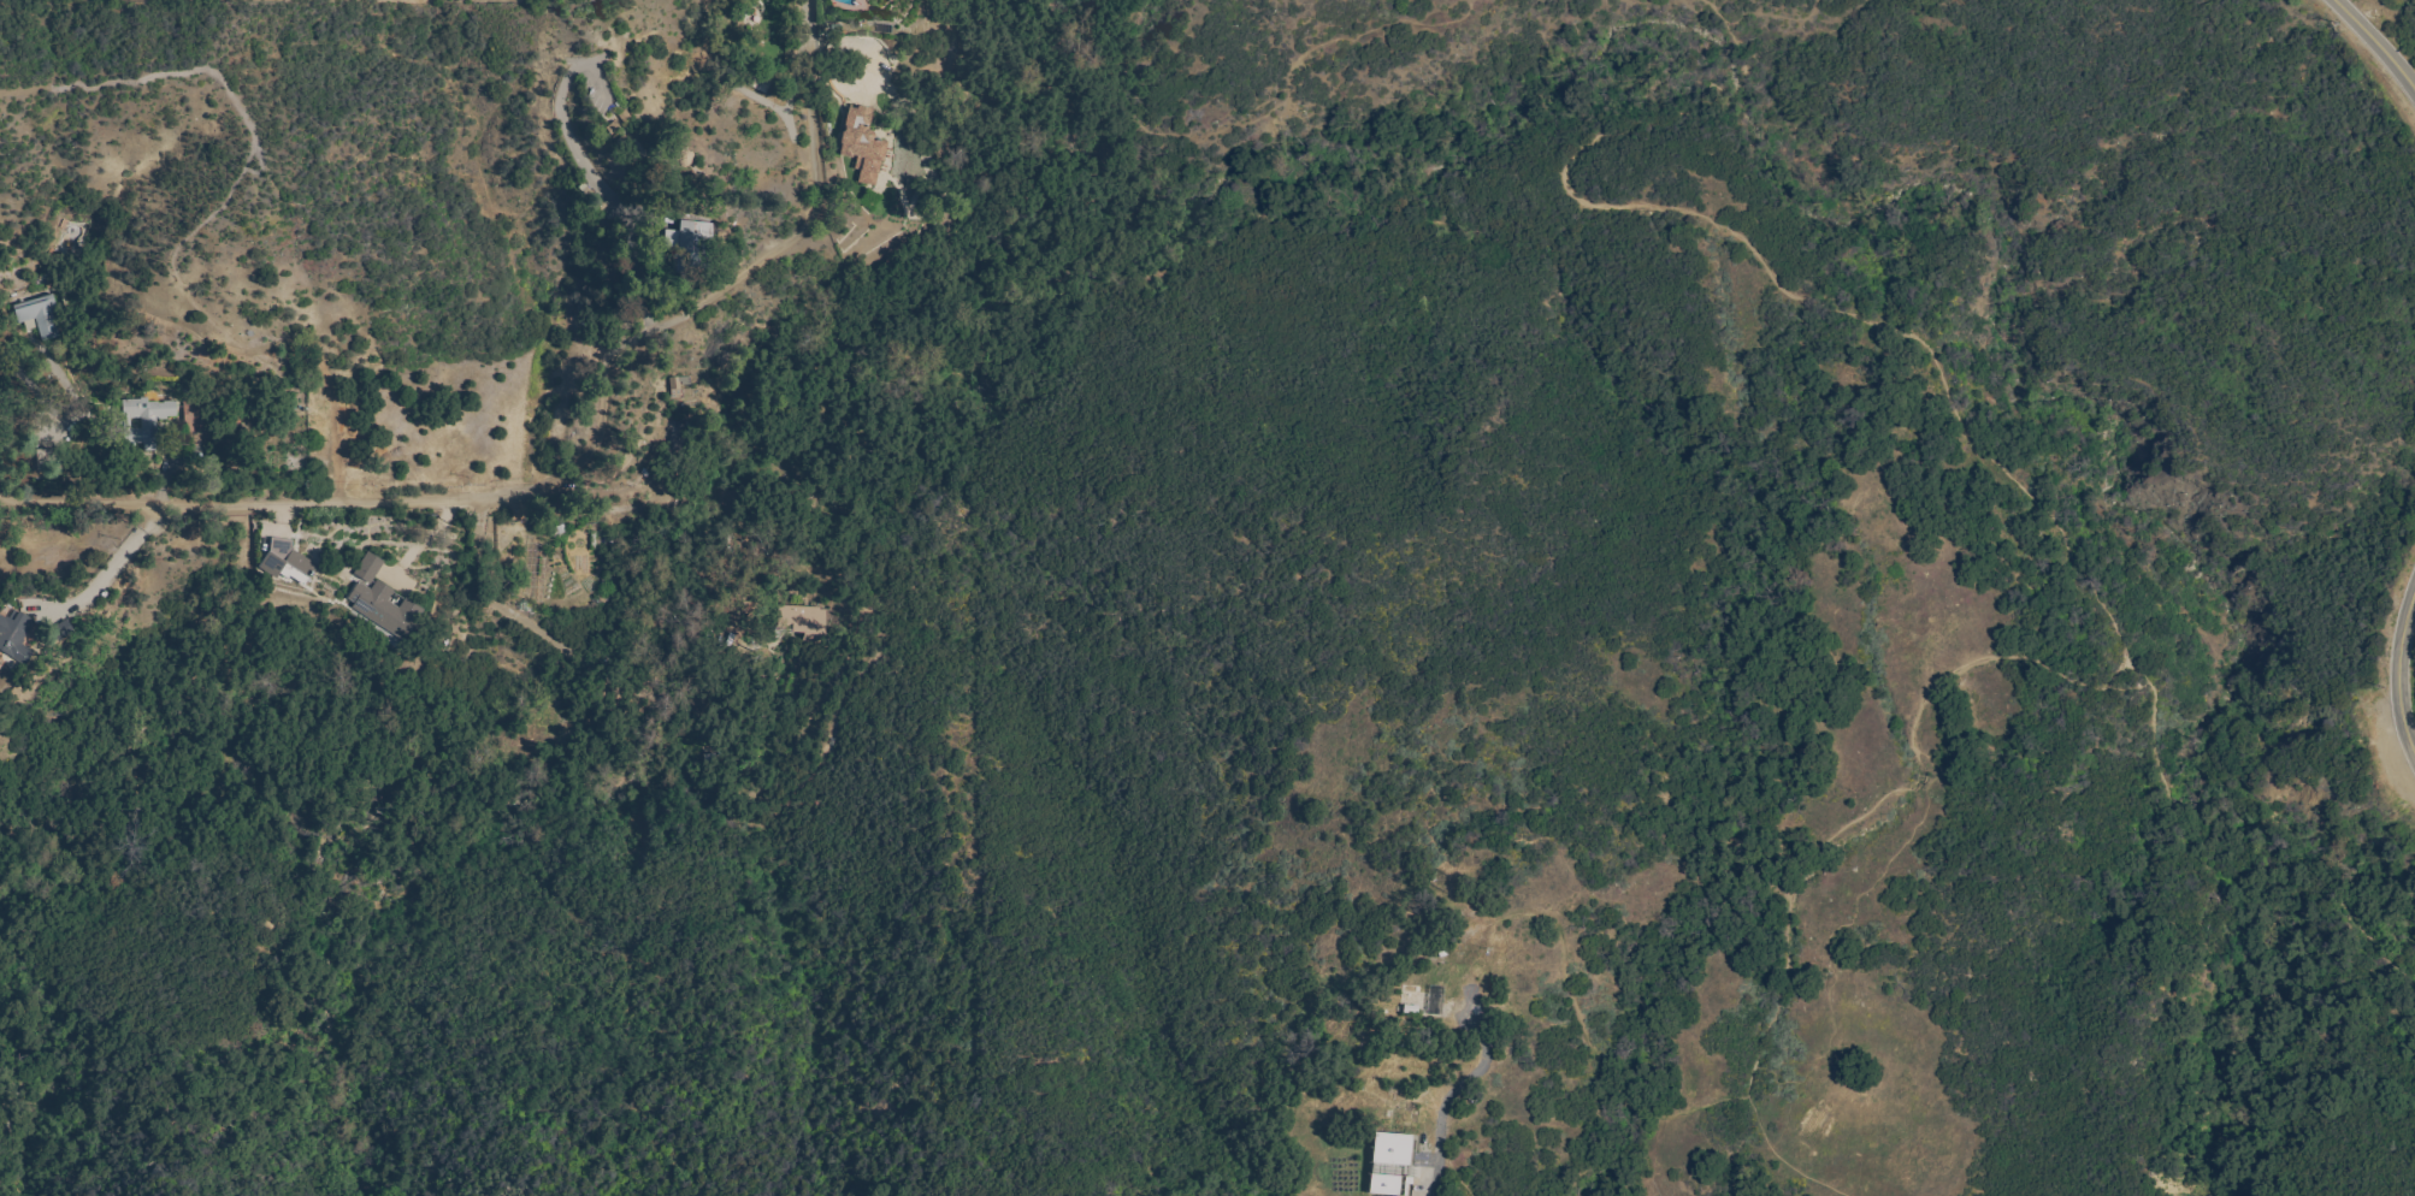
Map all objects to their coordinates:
road: (1431, 11)
road: (1771, 14)
road: (1360, 34)
road: (2374, 45)
building: (760, 83)
road: (811, 109)
building: (862, 144)
road: (585, 170)
building: (690, 241)
road: (1765, 270)
road: (740, 285)
building: (40, 316)
building: (196, 415)
building: (146, 421)
road: (603, 424)
building: (674, 438)
building: (48, 460)
road: (83, 502)
road: (343, 508)
building: (284, 563)
building: (368, 568)
road: (110, 584)
building: (385, 609)
road: (529, 623)
building: (807, 623)
building: (61, 630)
building: (14, 637)
road: (1964, 665)
road: (2397, 674)
road: (1830, 959)
road: (1572, 1005)
road: (1829, 1060)
road: (1775, 1076)
road: (1457, 1089)
building: (1389, 1164)

